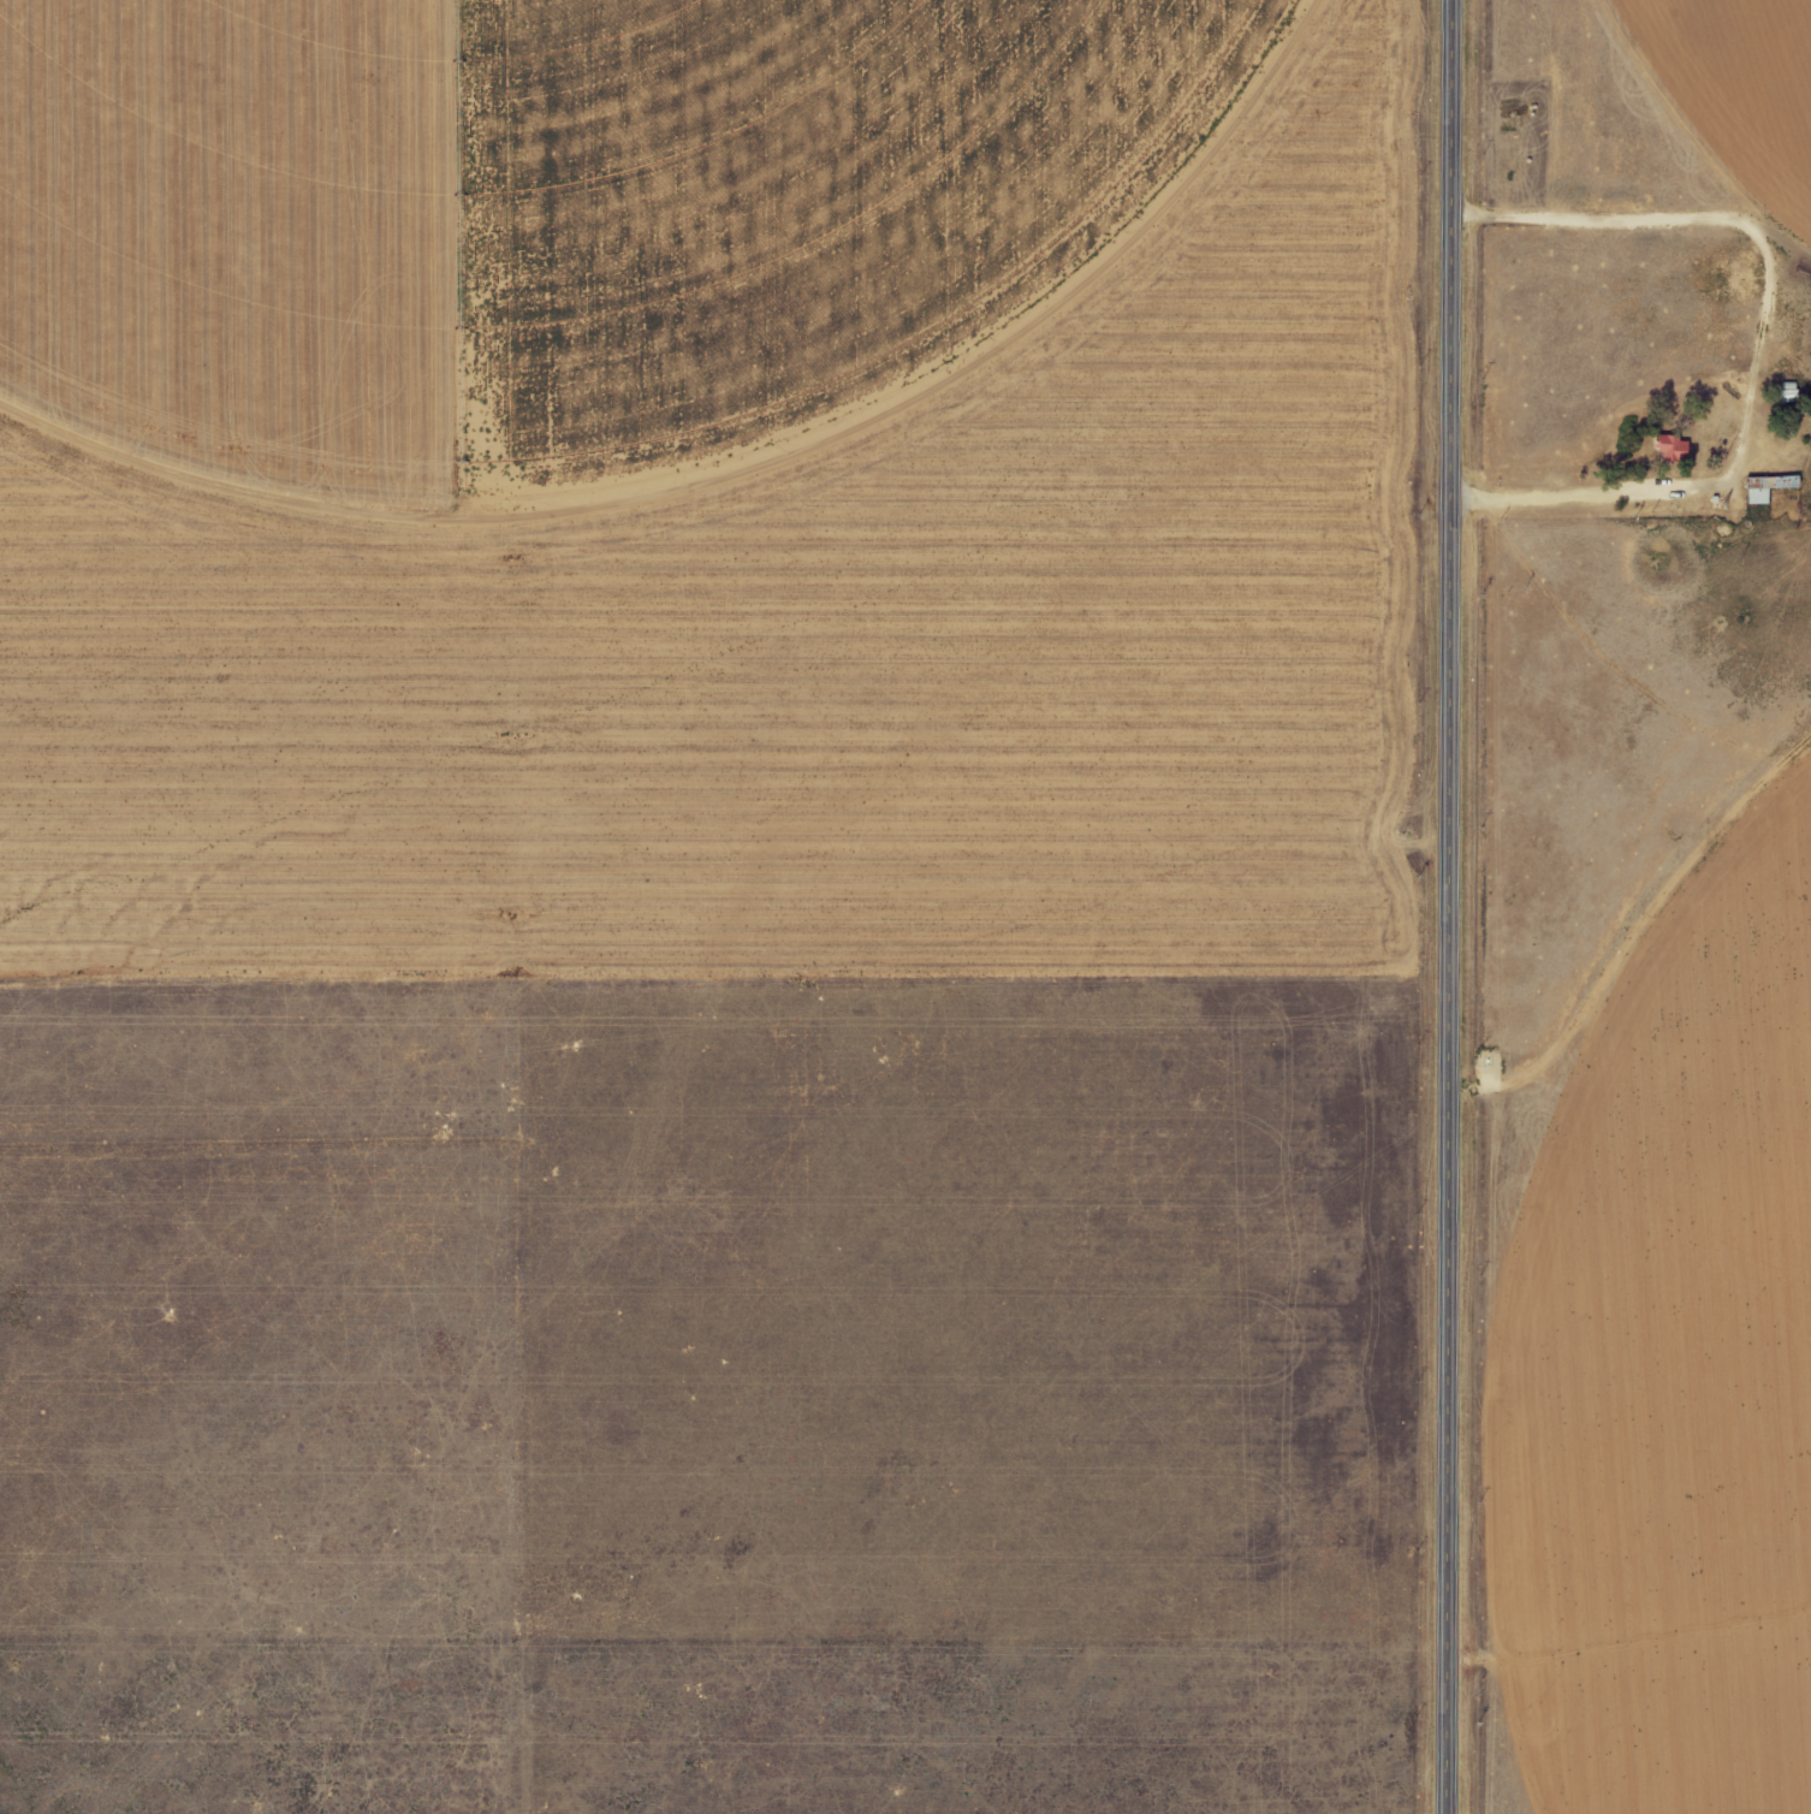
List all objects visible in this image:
road: (1451, 907)

